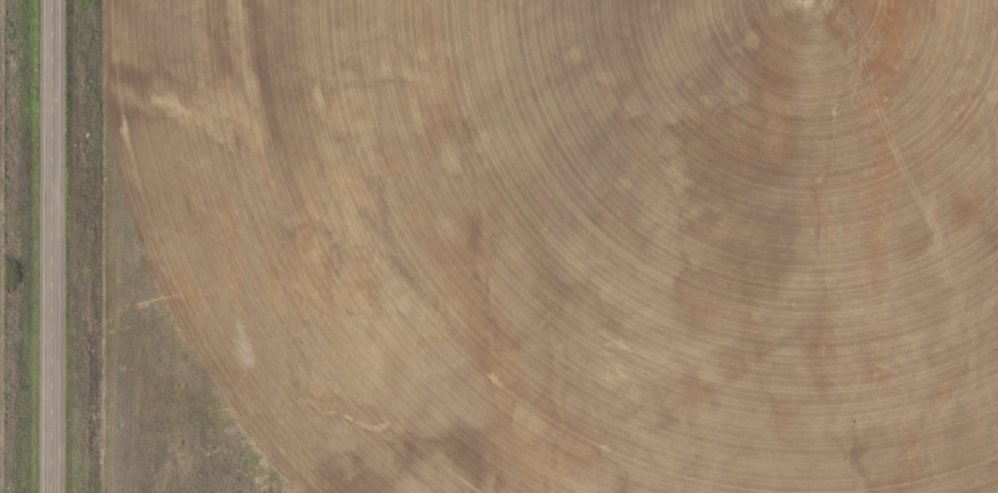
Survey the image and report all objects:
road: (48, 246)

